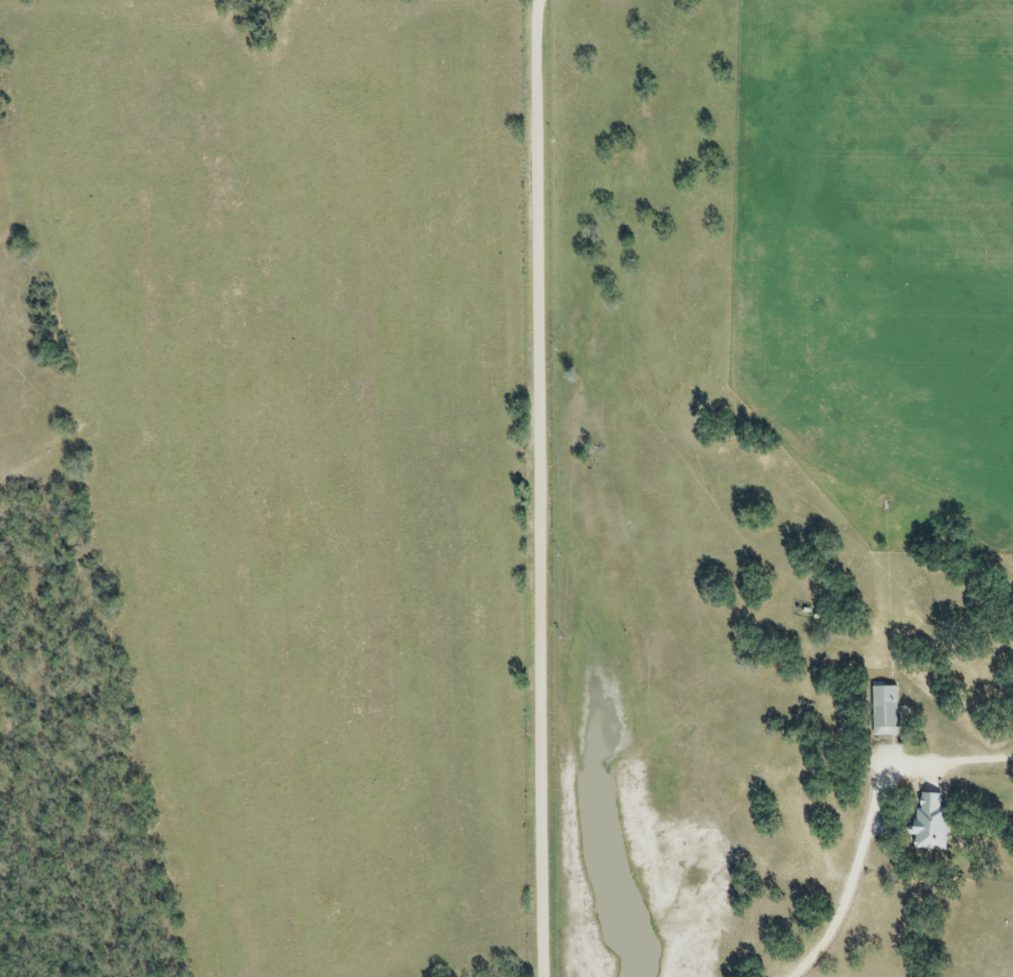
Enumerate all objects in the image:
road: (542, 488)
building: (884, 713)
road: (870, 815)
building: (930, 825)

